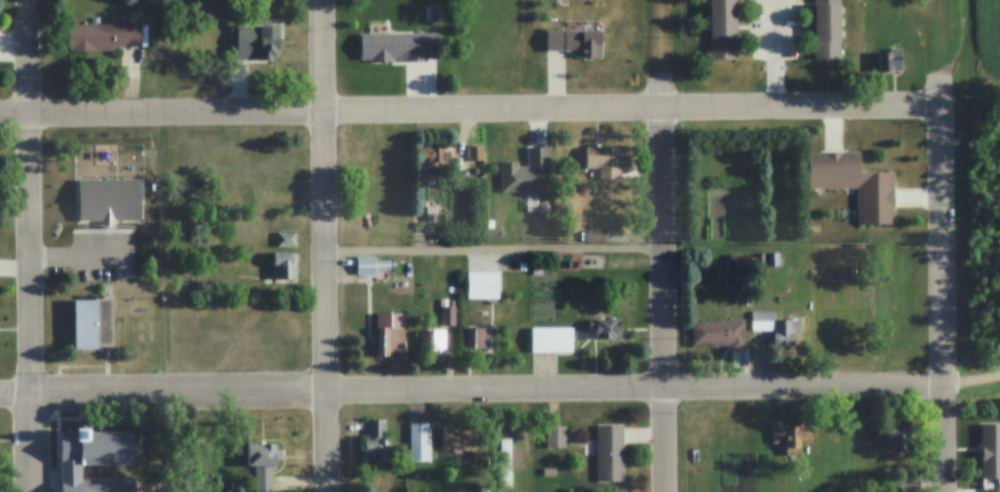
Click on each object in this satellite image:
road: (28, 5)
building: (722, 29)
building: (826, 29)
parking lot: (772, 30)
building: (101, 36)
building: (255, 43)
building: (889, 60)
road: (472, 112)
building: (475, 153)
building: (432, 155)
building: (604, 161)
building: (463, 173)
building: (527, 173)
building: (853, 184)
building: (499, 204)
building: (540, 207)
building: (550, 207)
building: (813, 229)
building: (595, 235)
building: (286, 239)
road: (323, 245)
road: (29, 251)
road: (495, 254)
building: (590, 259)
building: (772, 259)
building: (371, 265)
building: (284, 267)
building: (736, 267)
building: (482, 284)
road: (946, 299)
road: (667, 300)
building: (448, 315)
building: (761, 320)
building: (93, 323)
building: (606, 327)
building: (785, 332)
building: (718, 333)
building: (477, 337)
building: (551, 339)
building: (389, 340)
building: (433, 341)
road: (973, 383)
road: (473, 393)
building: (789, 432)
building: (899, 434)
building: (555, 436)
building: (458, 439)
building: (377, 441)
building: (419, 441)
building: (610, 452)
building: (94, 459)
building: (777, 460)
building: (505, 461)
building: (262, 464)
building: (418, 470)
building: (548, 471)
building: (909, 484)

